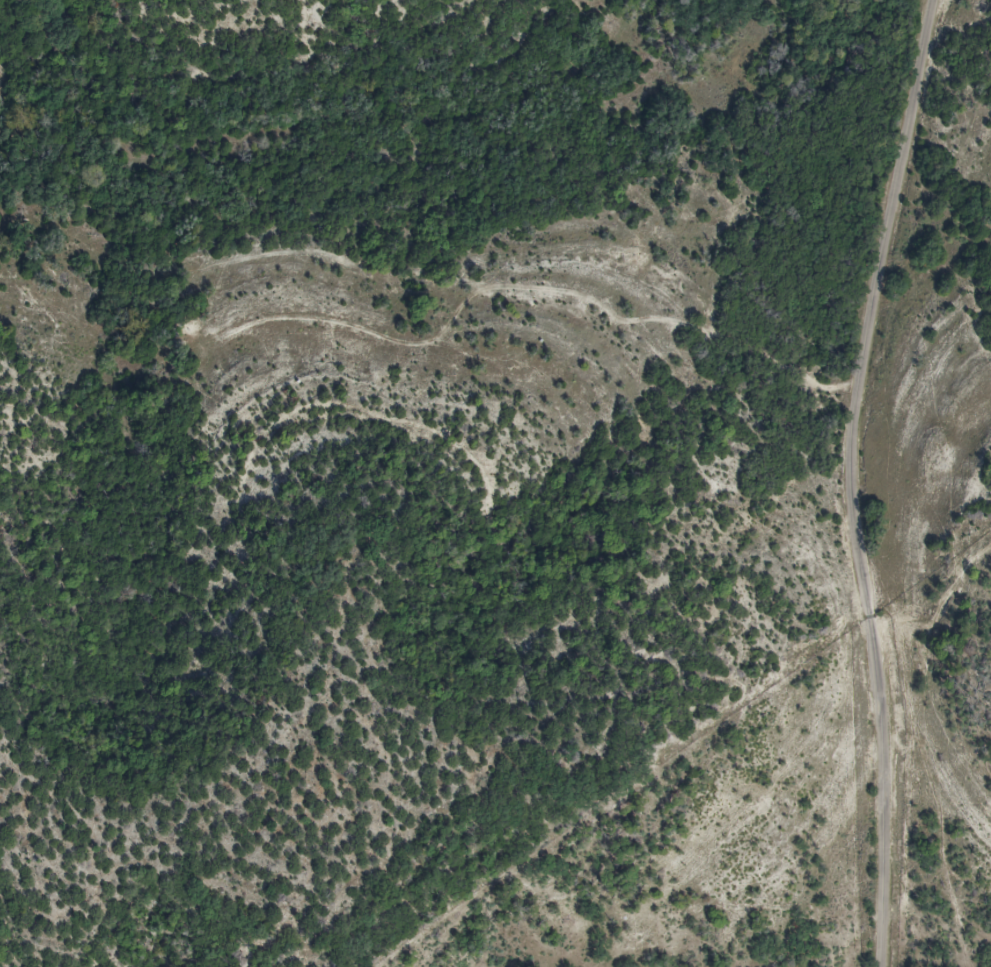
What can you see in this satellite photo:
road: (848, 480)

